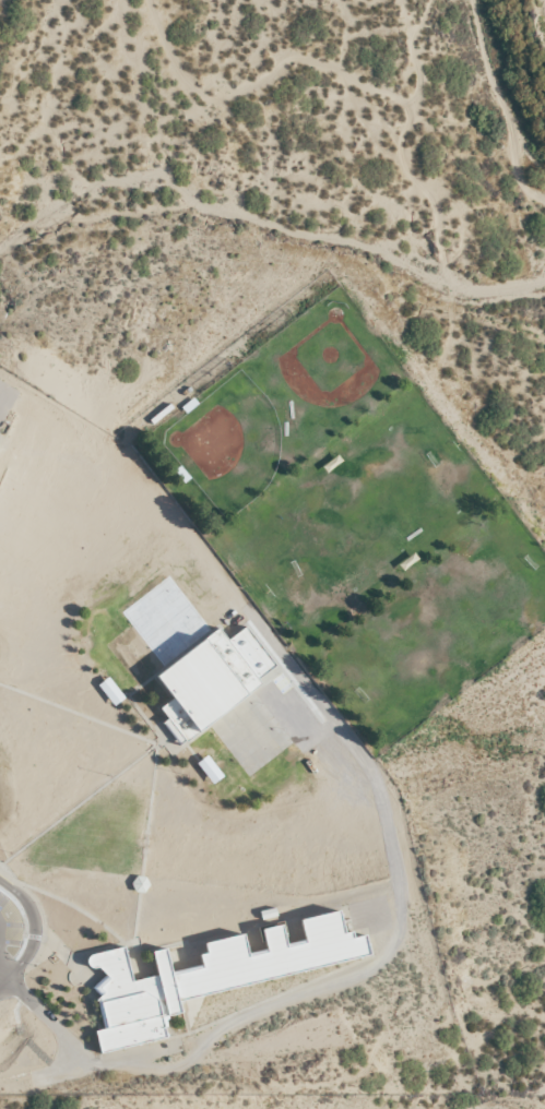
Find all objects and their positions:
building: (206, 684)
building: (202, 975)
park: (507, 1106)

